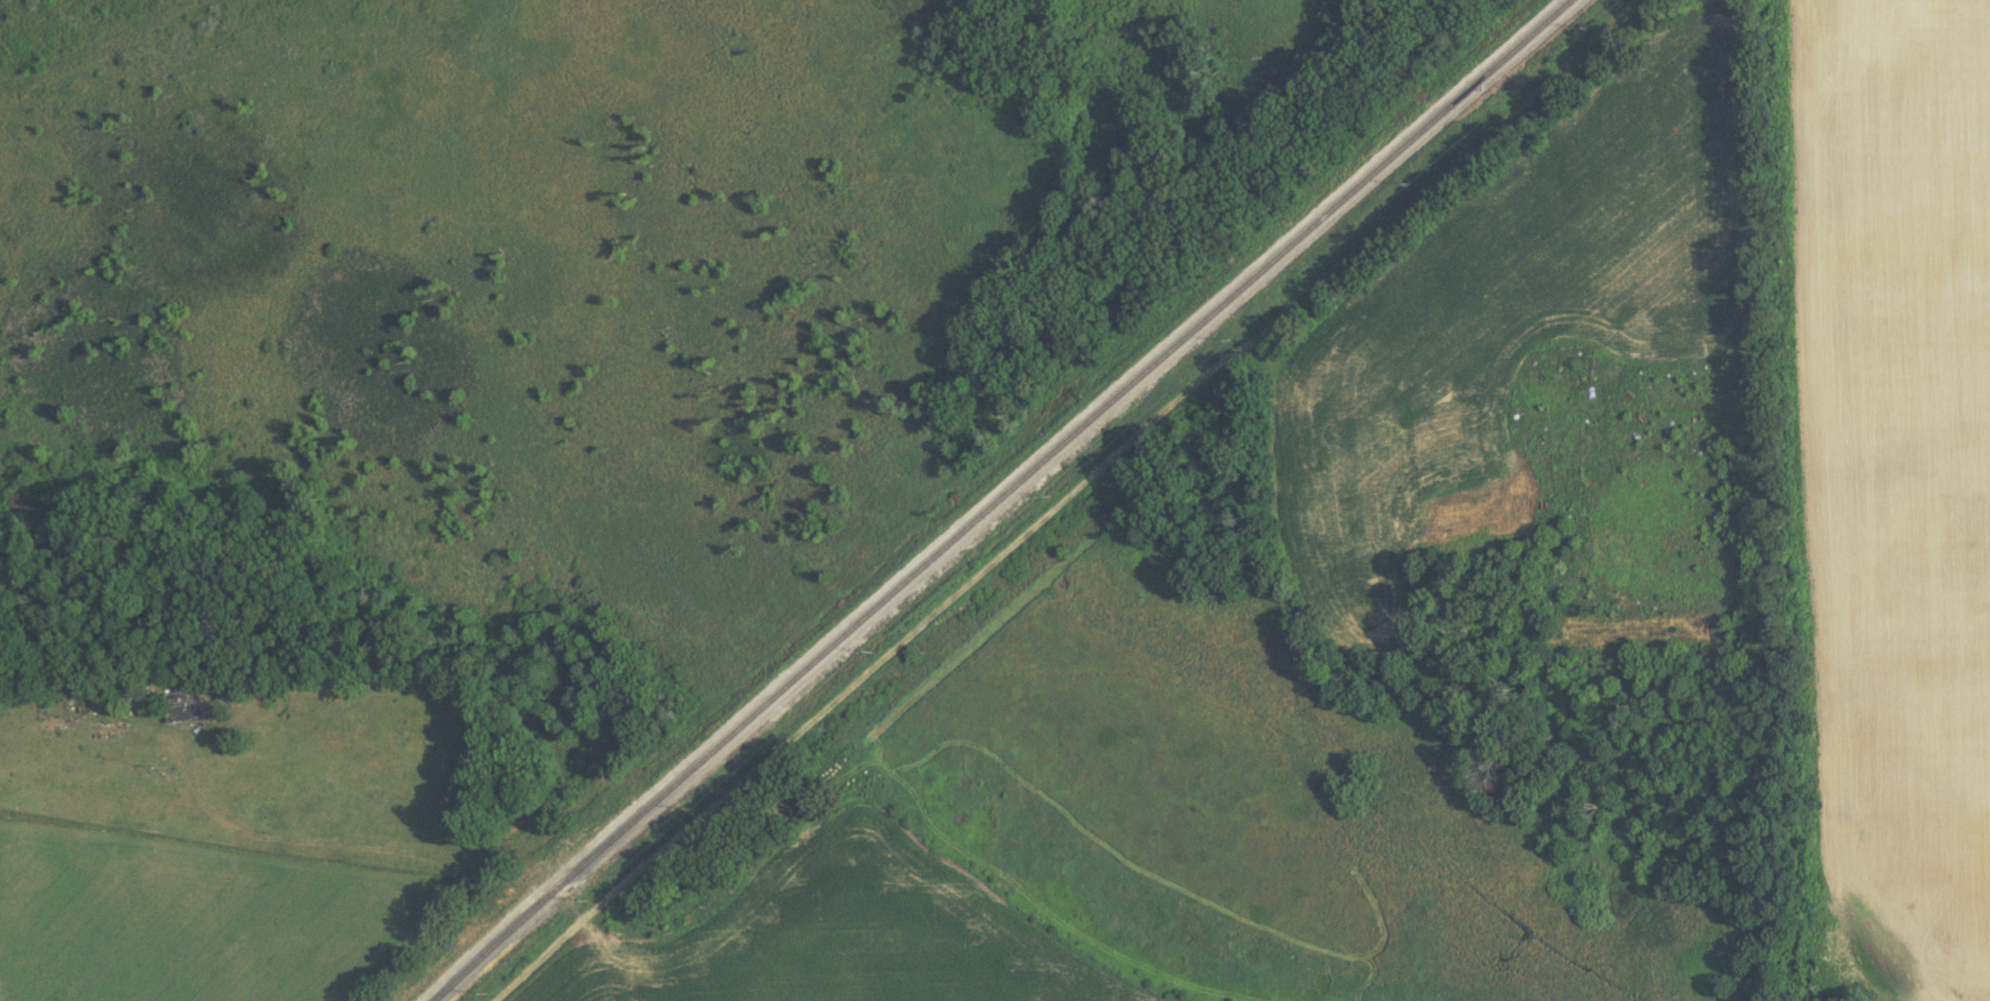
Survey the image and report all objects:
railway: (1005, 496)
road: (1068, 499)
building: (1733, 540)
building: (183, 707)
road: (360, 851)

